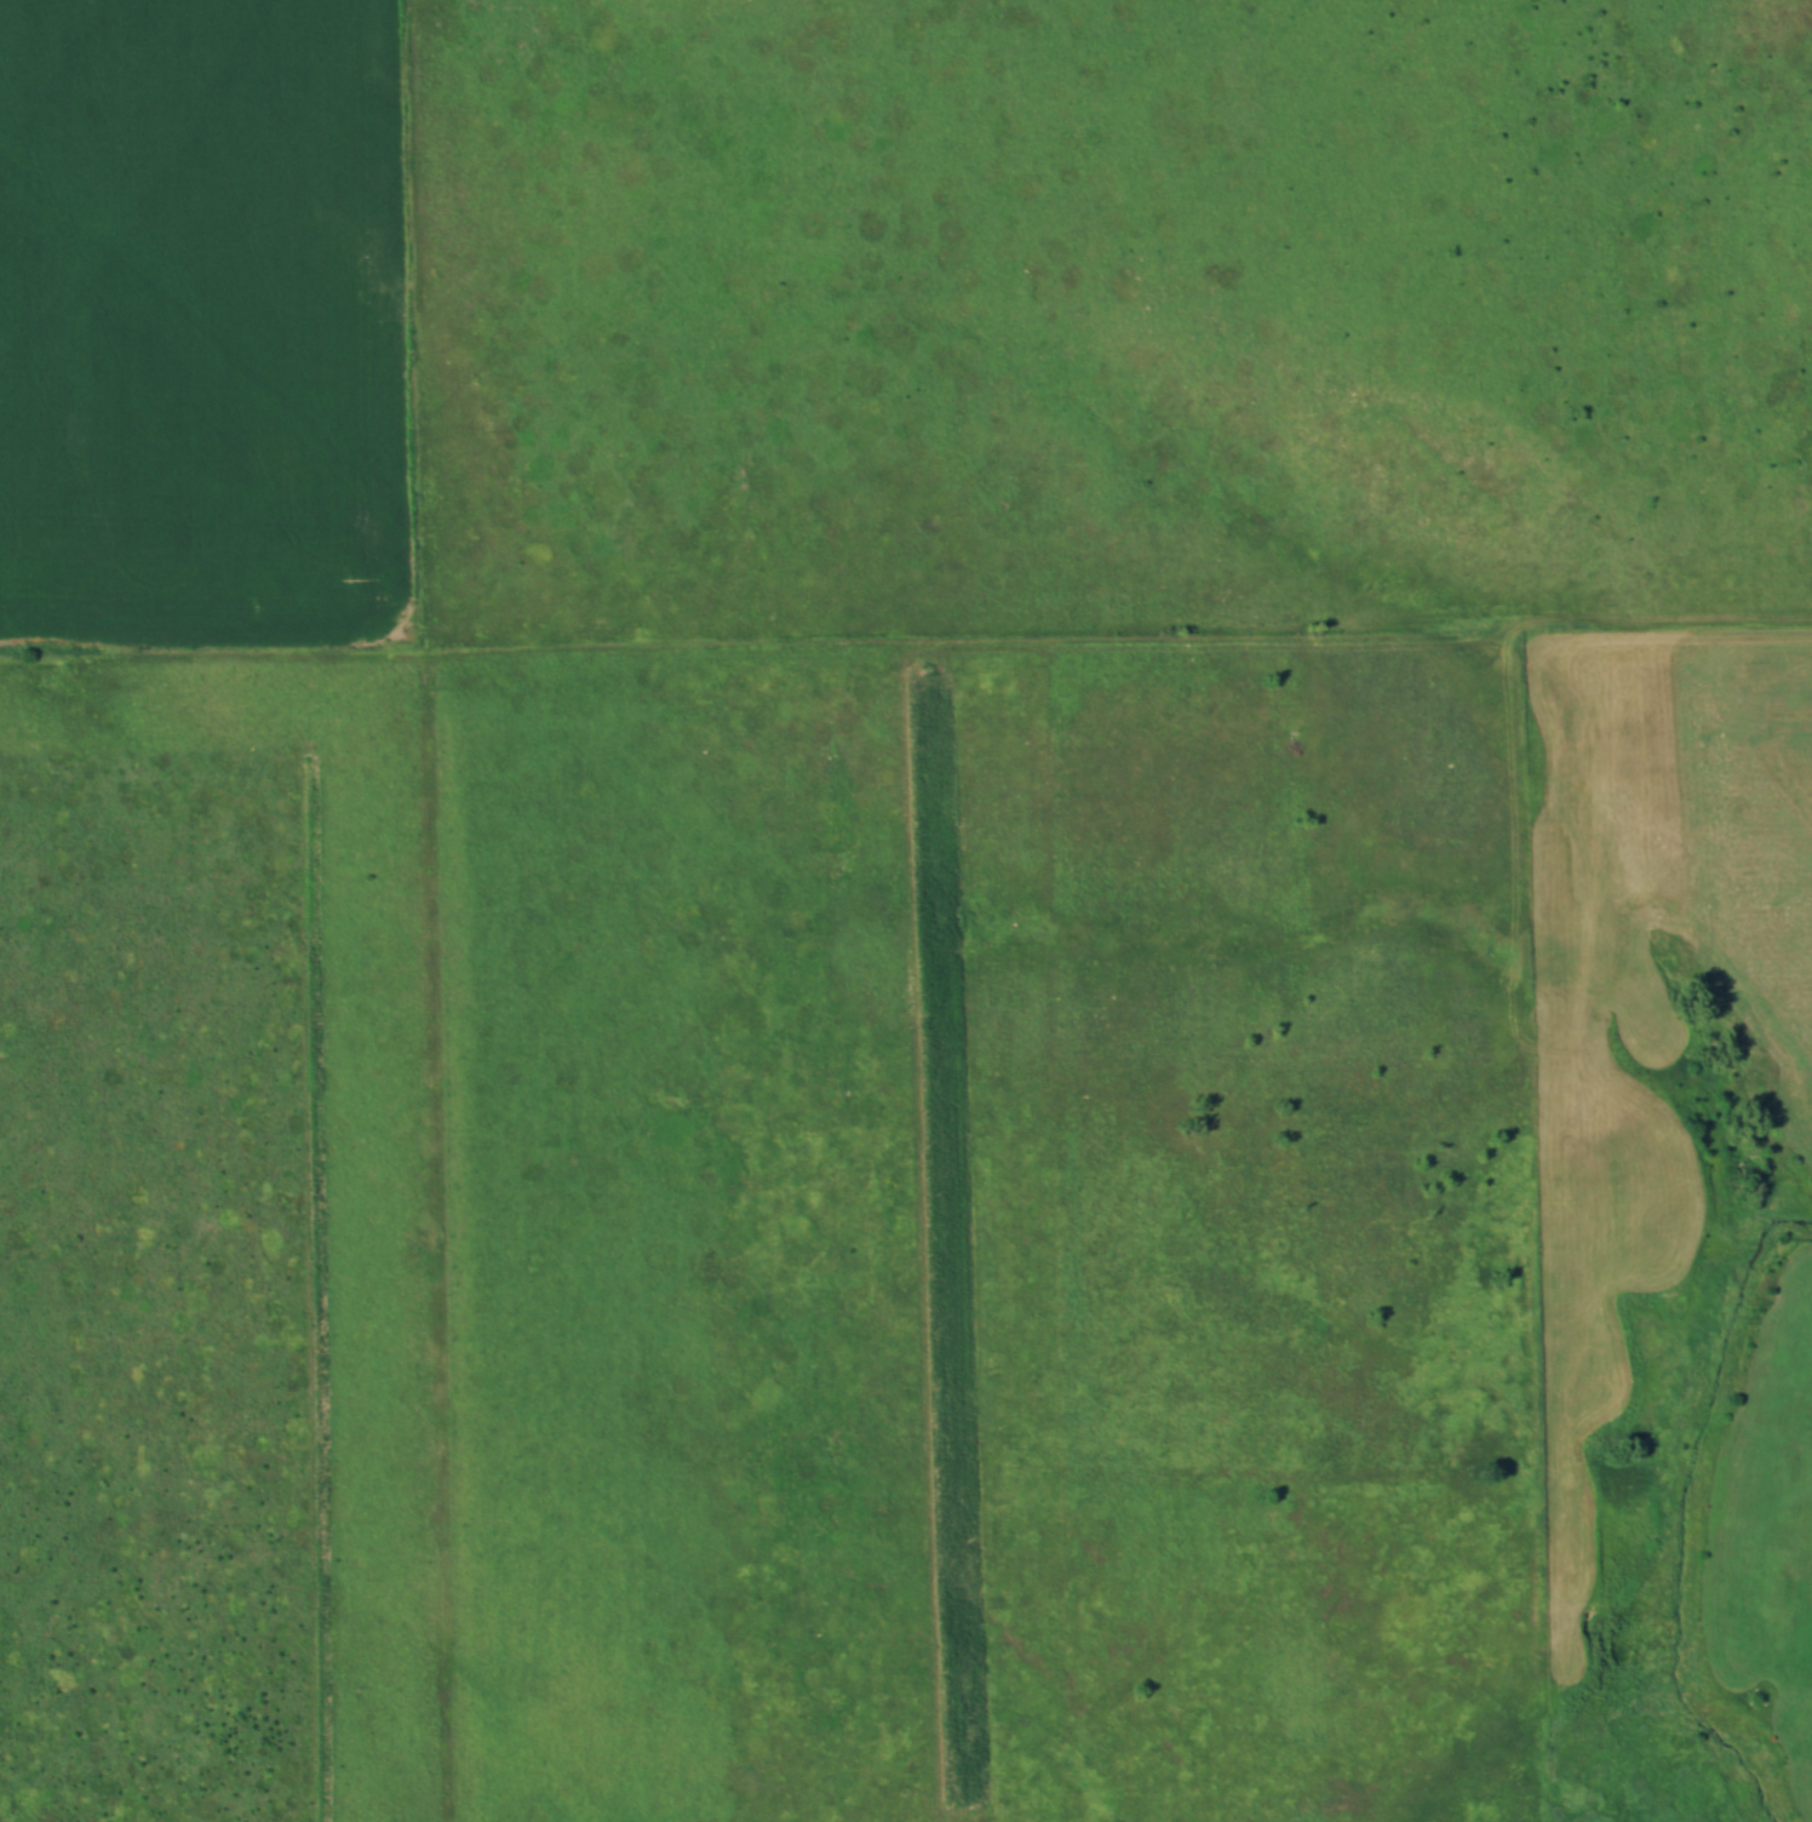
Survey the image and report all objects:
river: (1684, 1517)

